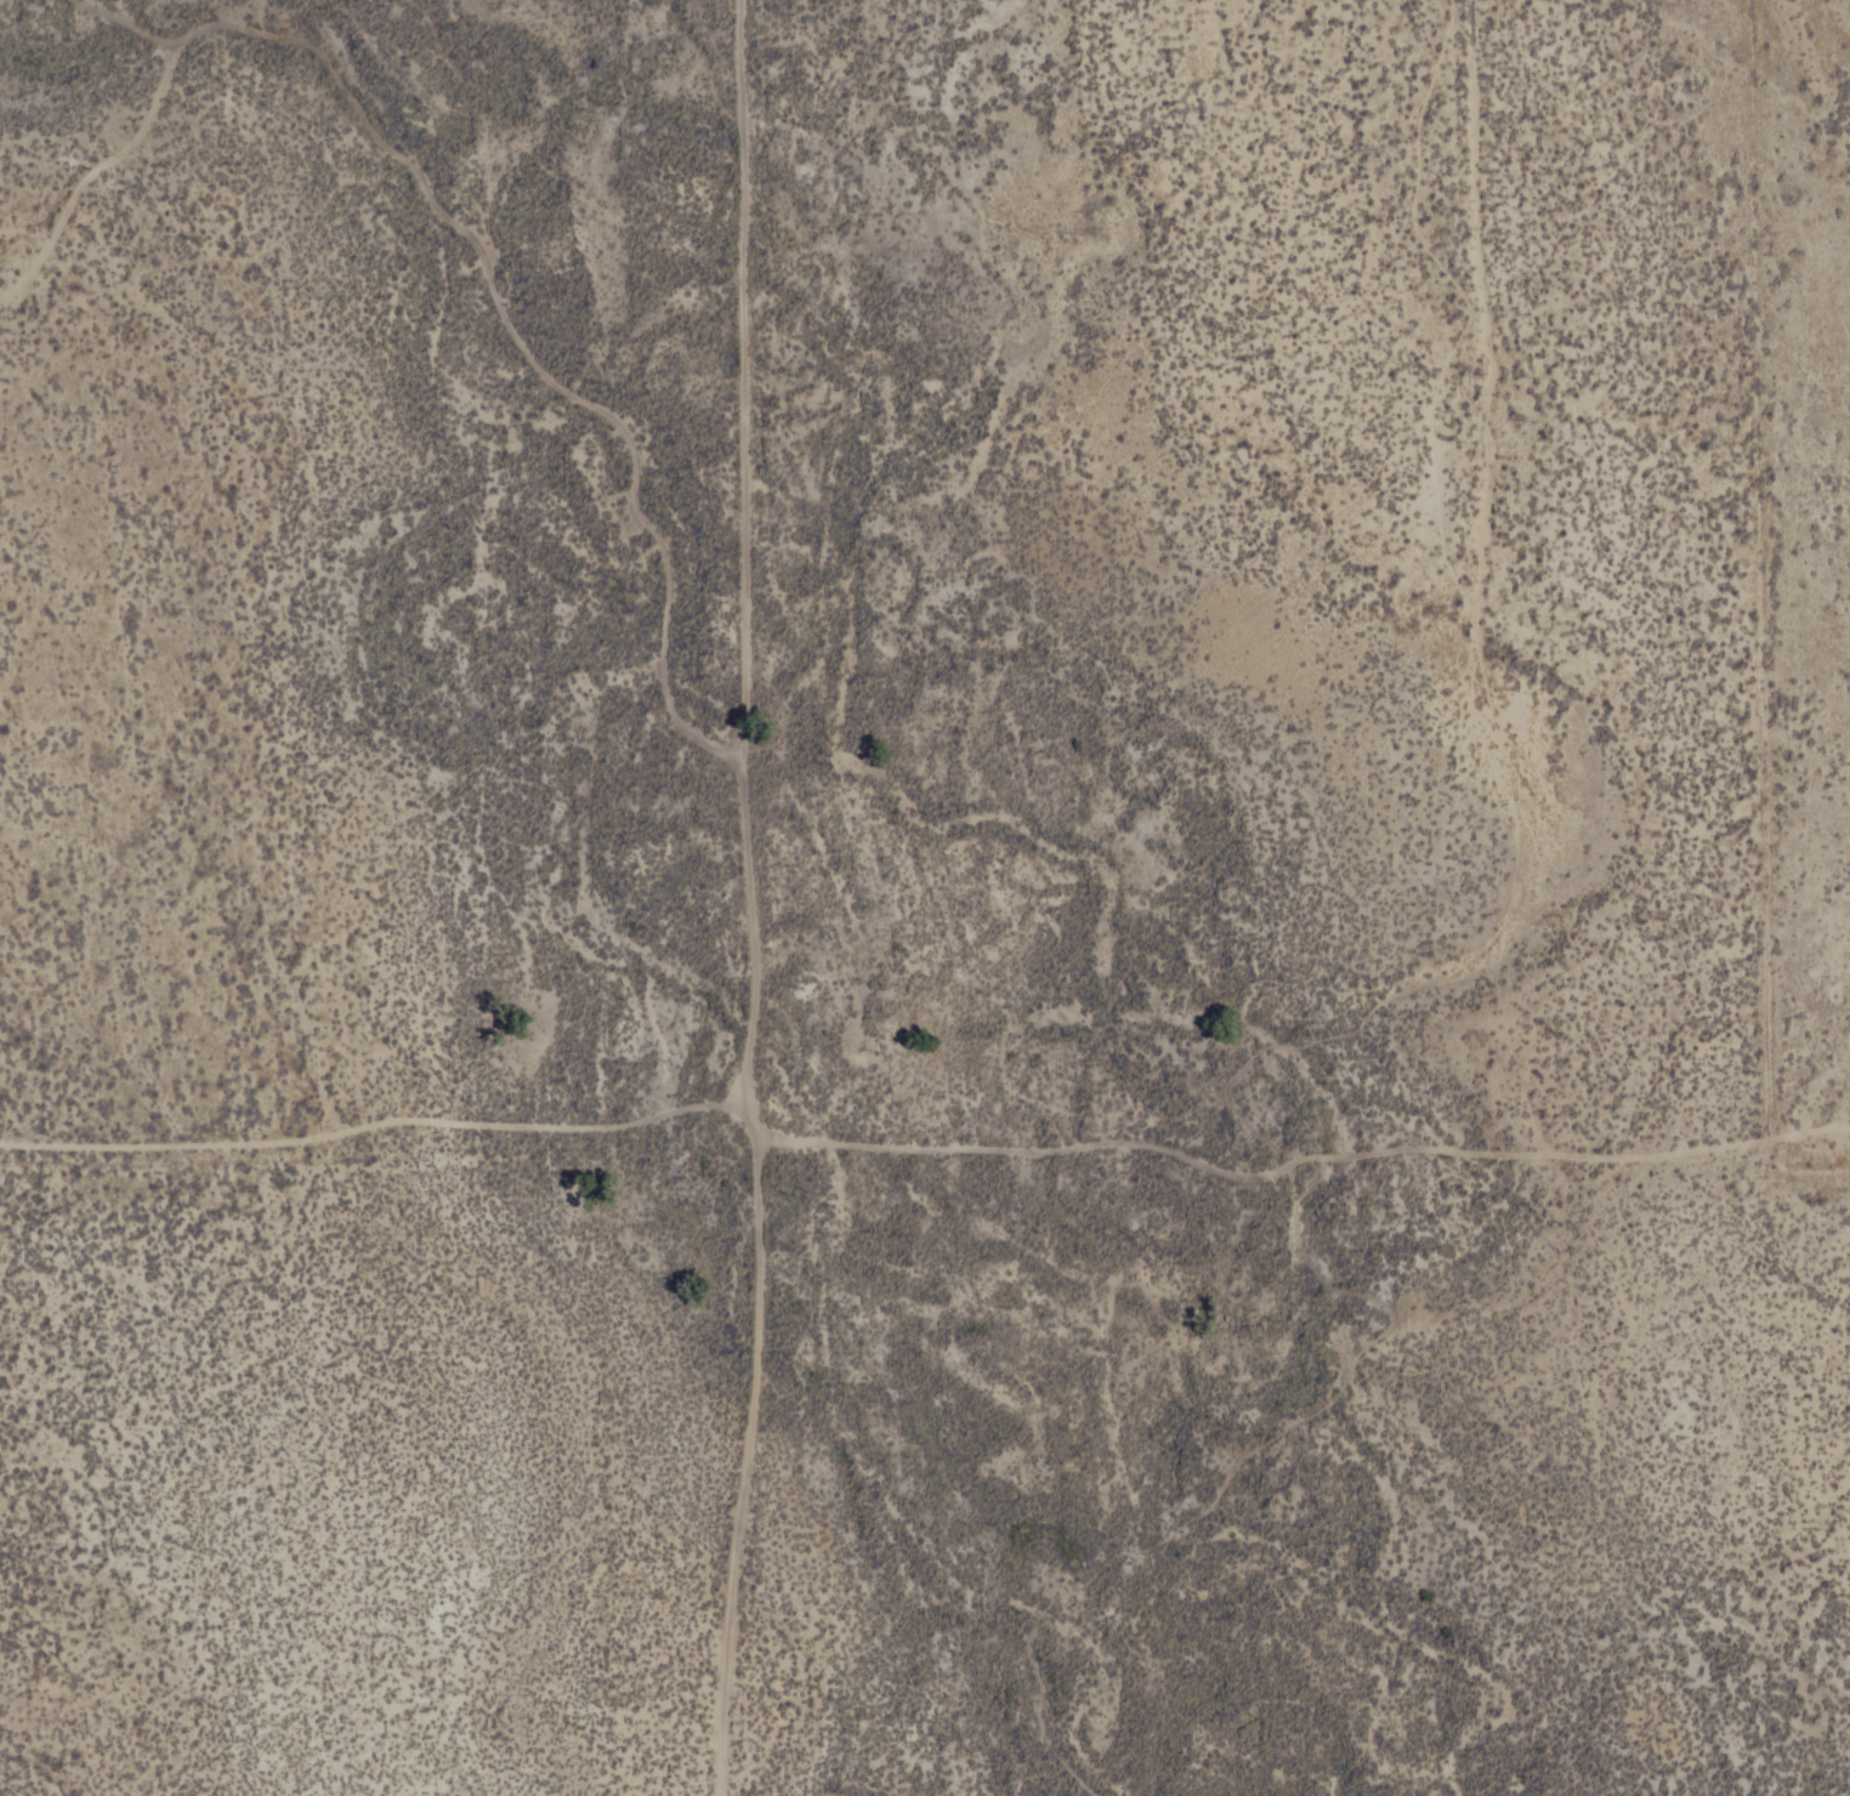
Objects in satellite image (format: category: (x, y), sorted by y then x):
road: (262, 28)
road: (98, 176)
road: (630, 421)
road: (760, 899)
road: (378, 1125)
road: (1747, 1155)
road: (1310, 1158)

